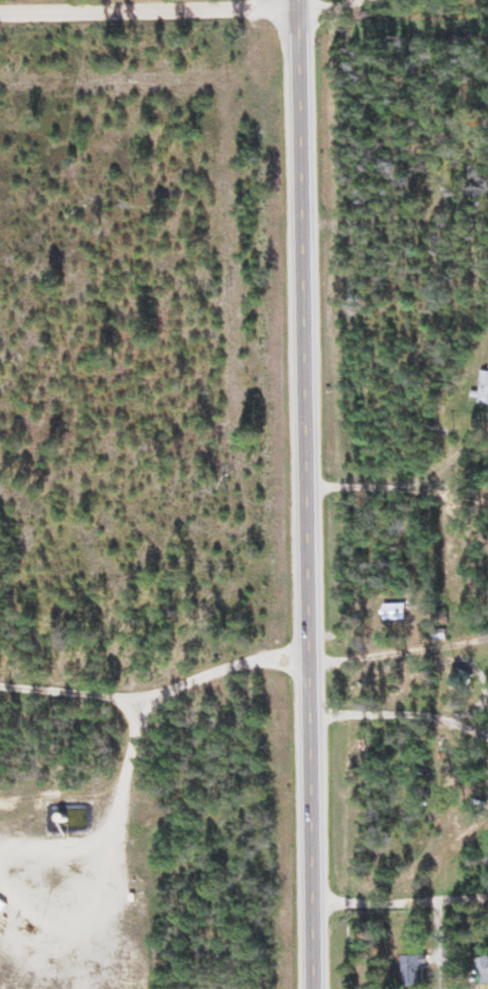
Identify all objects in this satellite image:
road: (185, 8)
building: (487, 364)
building: (482, 389)
road: (397, 487)
road: (305, 494)
building: (392, 612)
road: (399, 670)
building: (460, 678)
road: (158, 697)
road: (401, 905)
building: (483, 970)
building: (412, 972)

